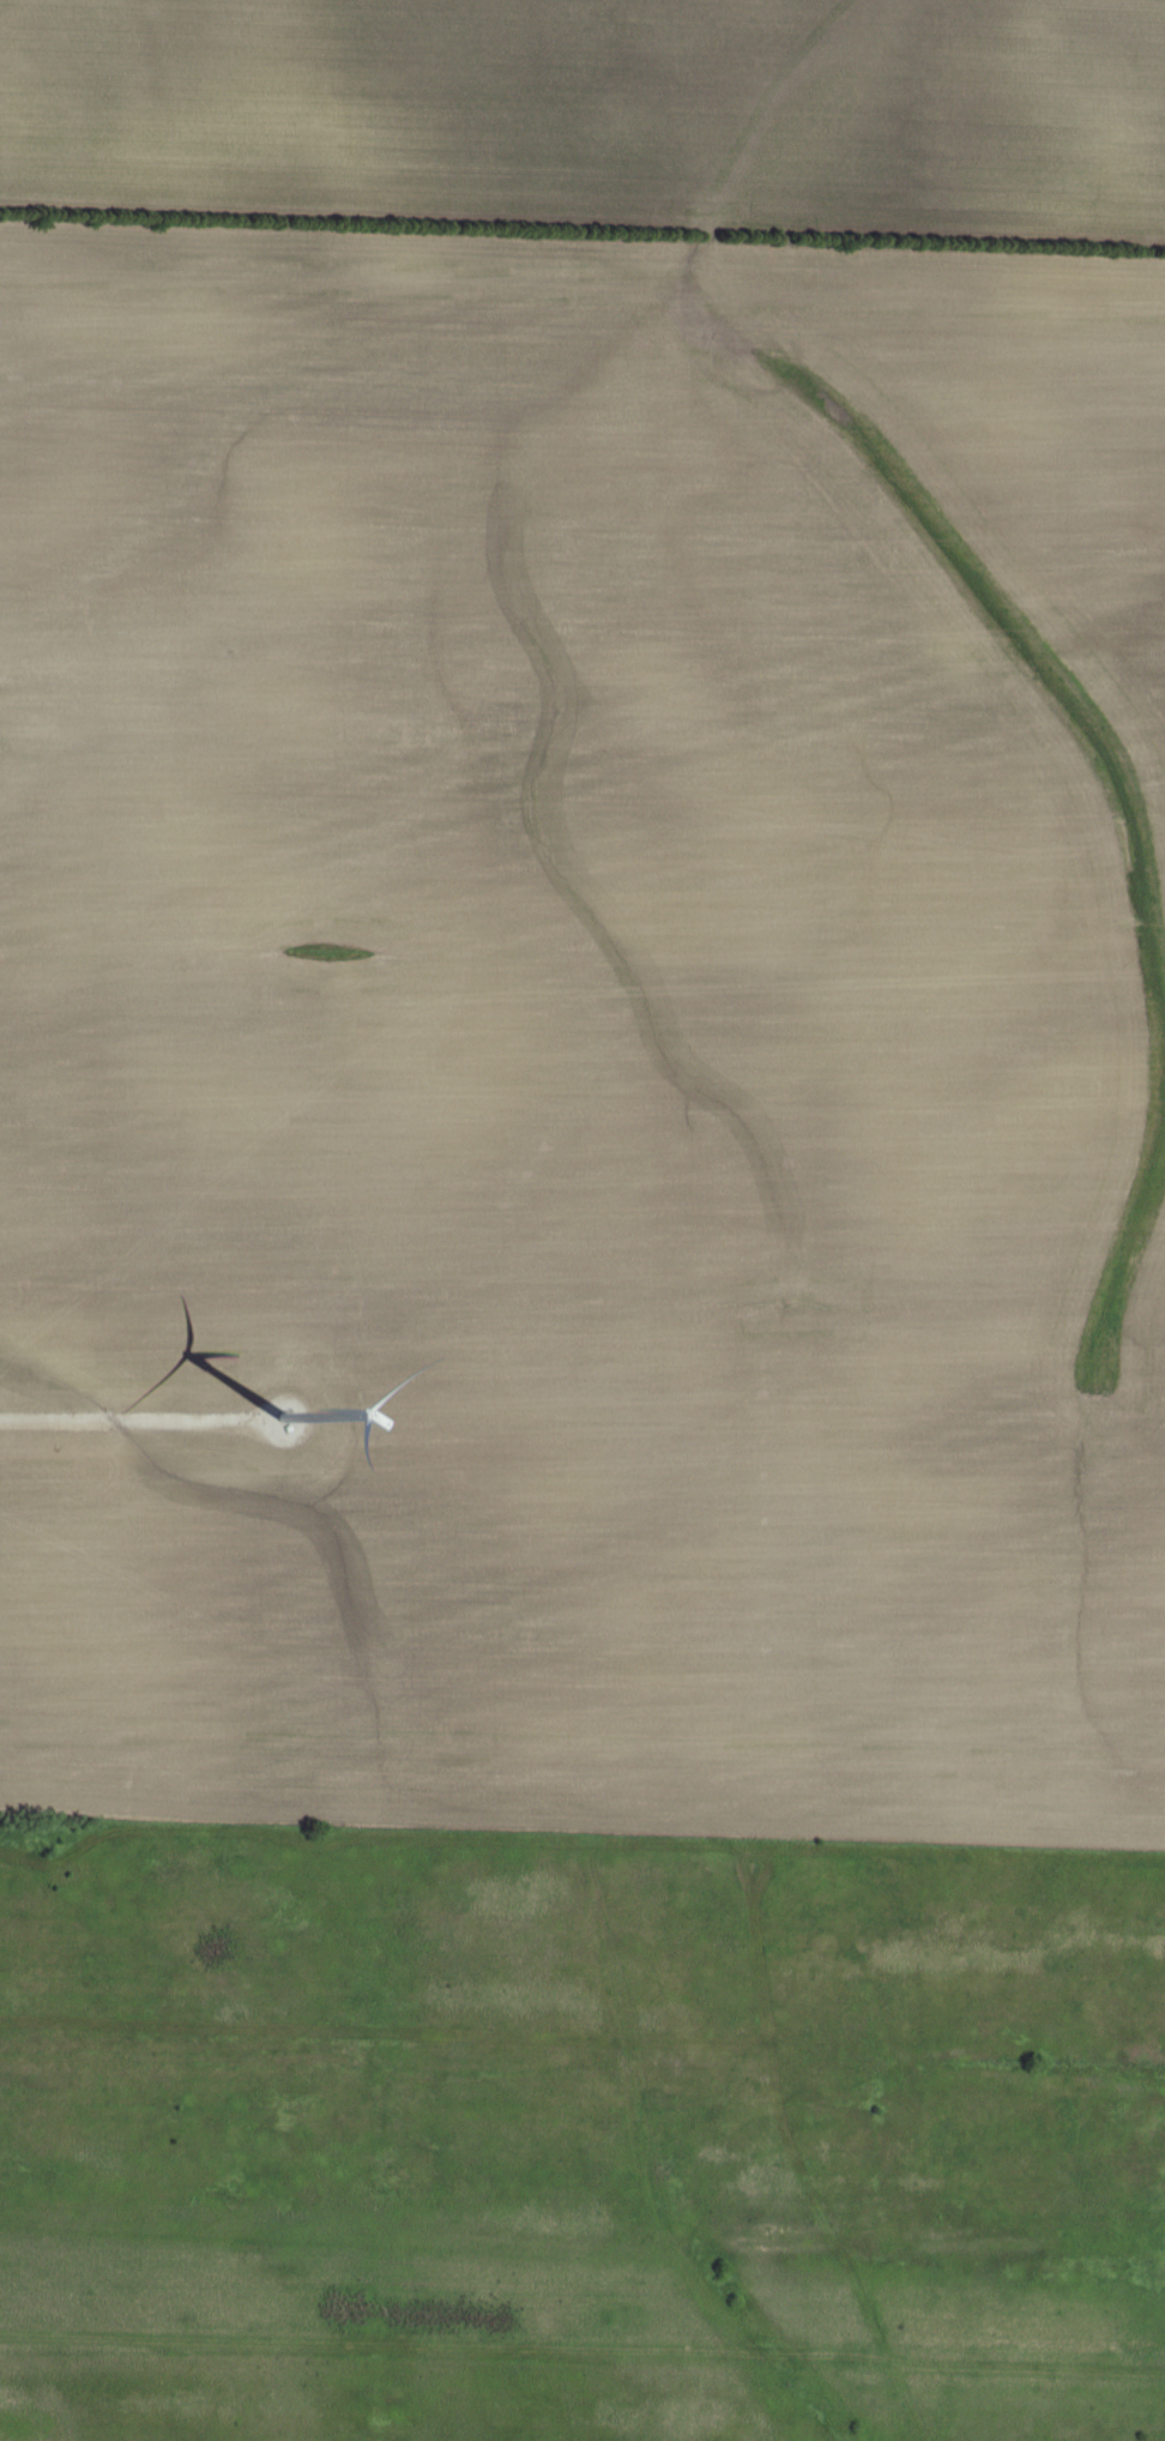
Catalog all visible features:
wind turbine: (284, 1418)
road: (133, 1420)

